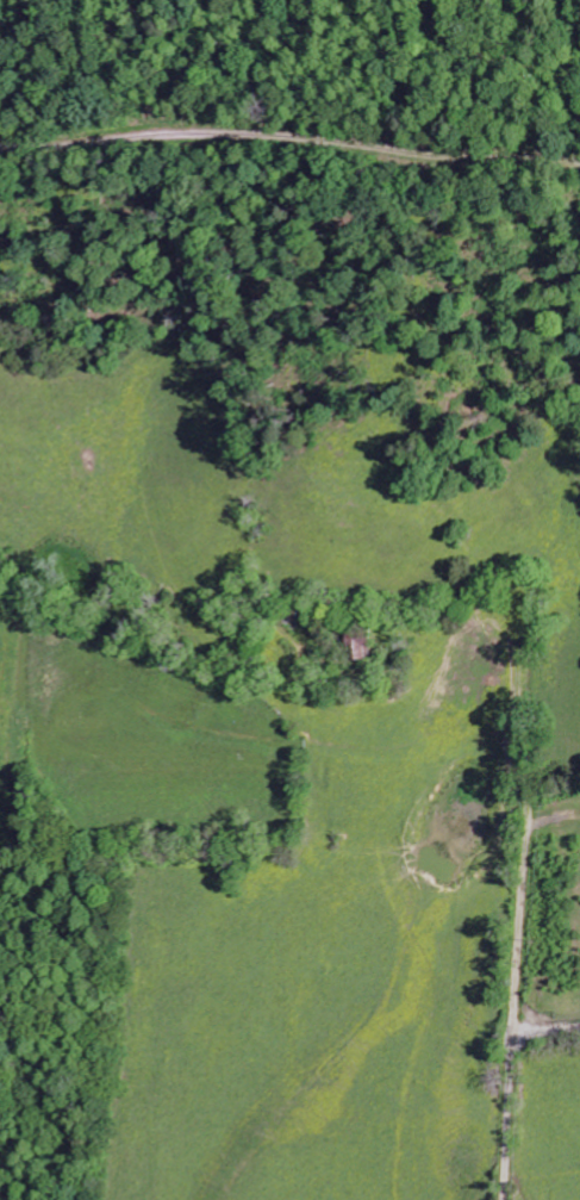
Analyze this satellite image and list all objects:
building: (356, 645)
road: (509, 1124)

